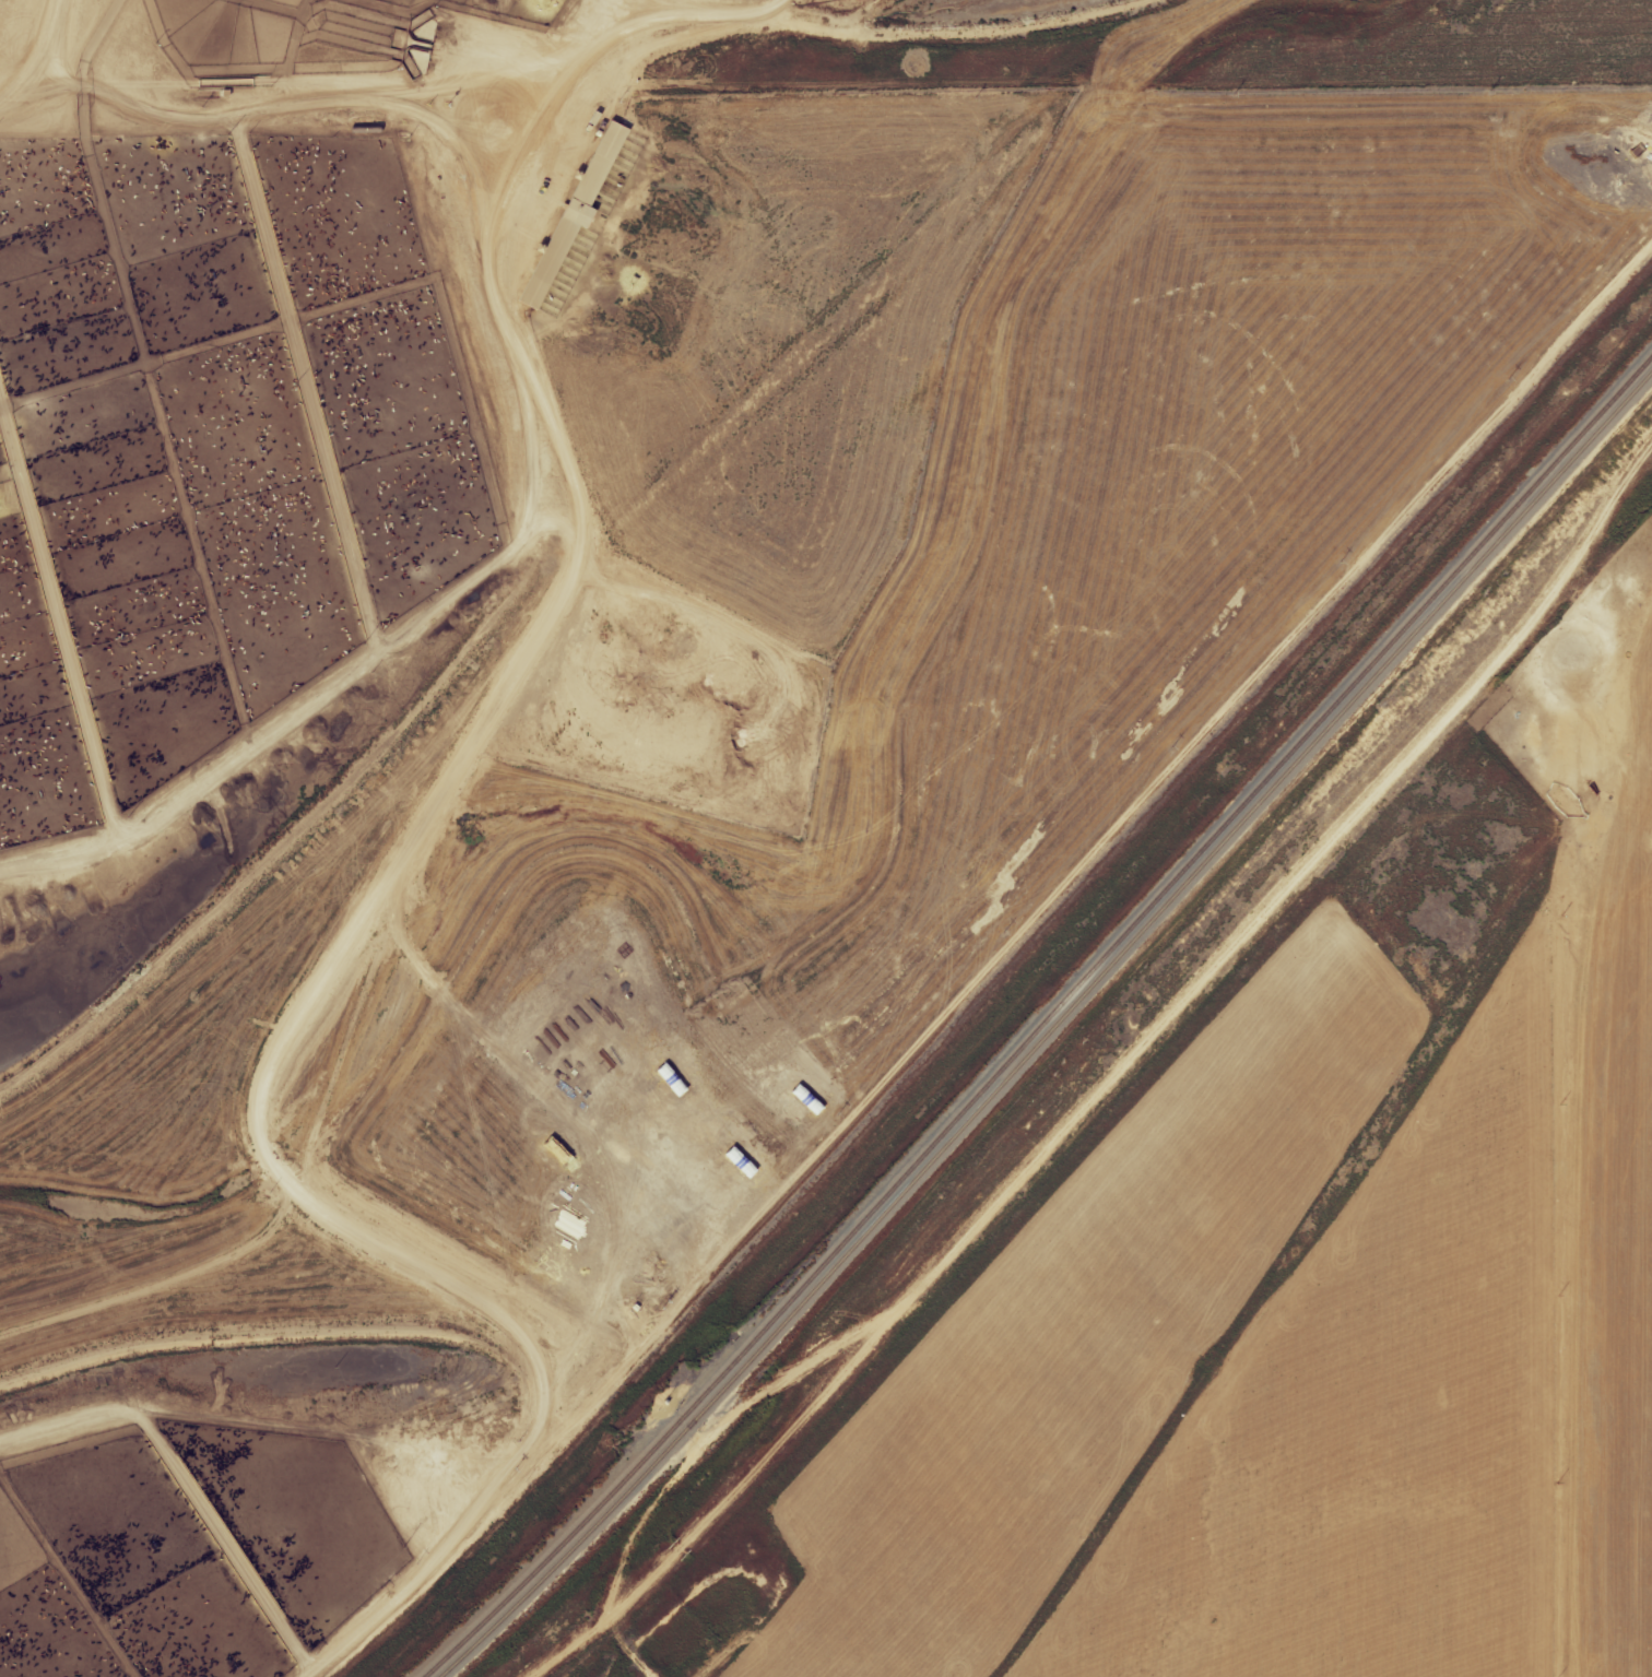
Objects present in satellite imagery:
road: (544, 99)
building: (581, 214)
road: (452, 588)
road: (70, 597)
road: (981, 970)
railway: (1045, 1024)
railway: (1054, 1031)
road: (190, 1484)
road: (0, 1676)

